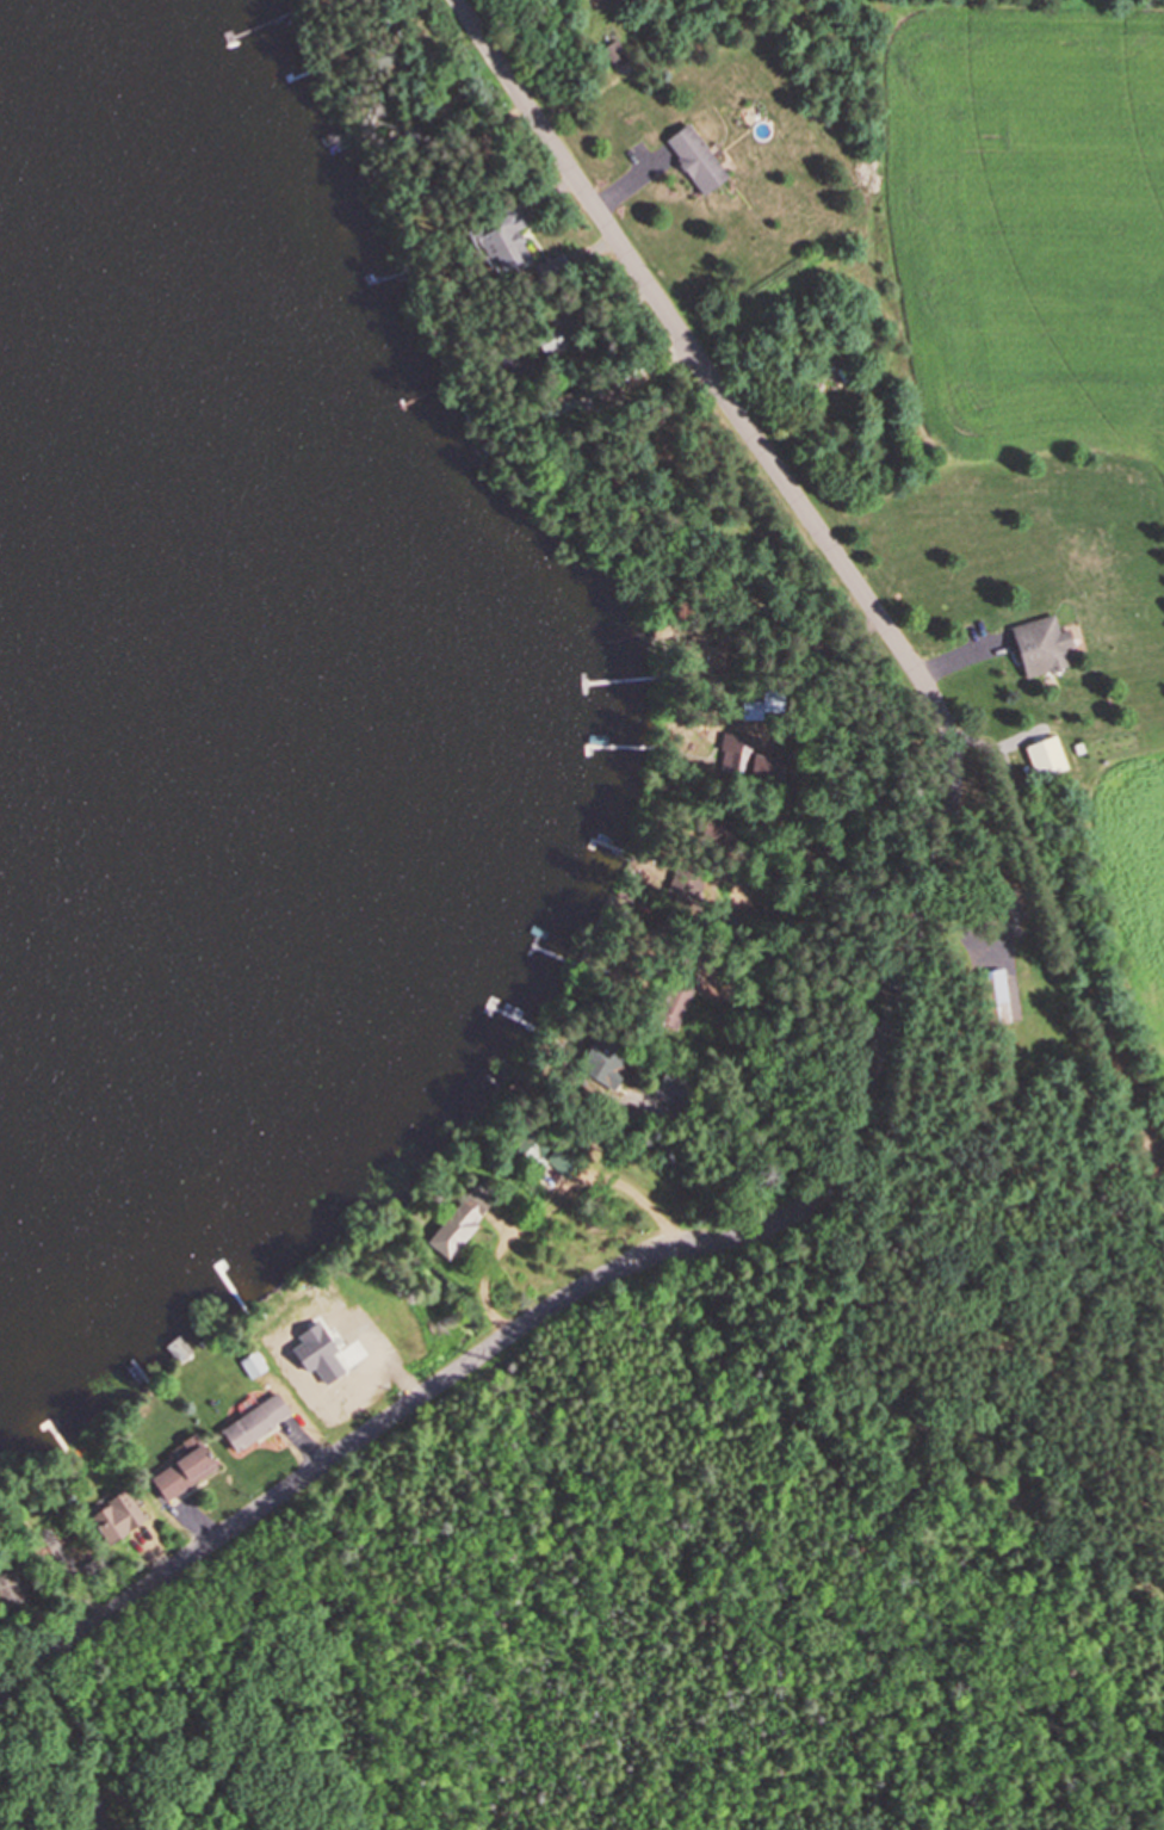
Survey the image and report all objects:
building: (615, 54)
building: (382, 57)
building: (694, 157)
building: (501, 237)
building: (552, 344)
building: (558, 404)
building: (491, 445)
building: (1040, 645)
building: (1045, 756)
building: (753, 763)
building: (682, 886)
building: (1007, 911)
building: (992, 985)
building: (675, 997)
road: (892, 1007)
building: (673, 1090)
building: (543, 1151)
building: (452, 1229)
building: (310, 1334)
building: (254, 1422)
building: (180, 1473)
building: (114, 1516)
building: (10, 1590)

